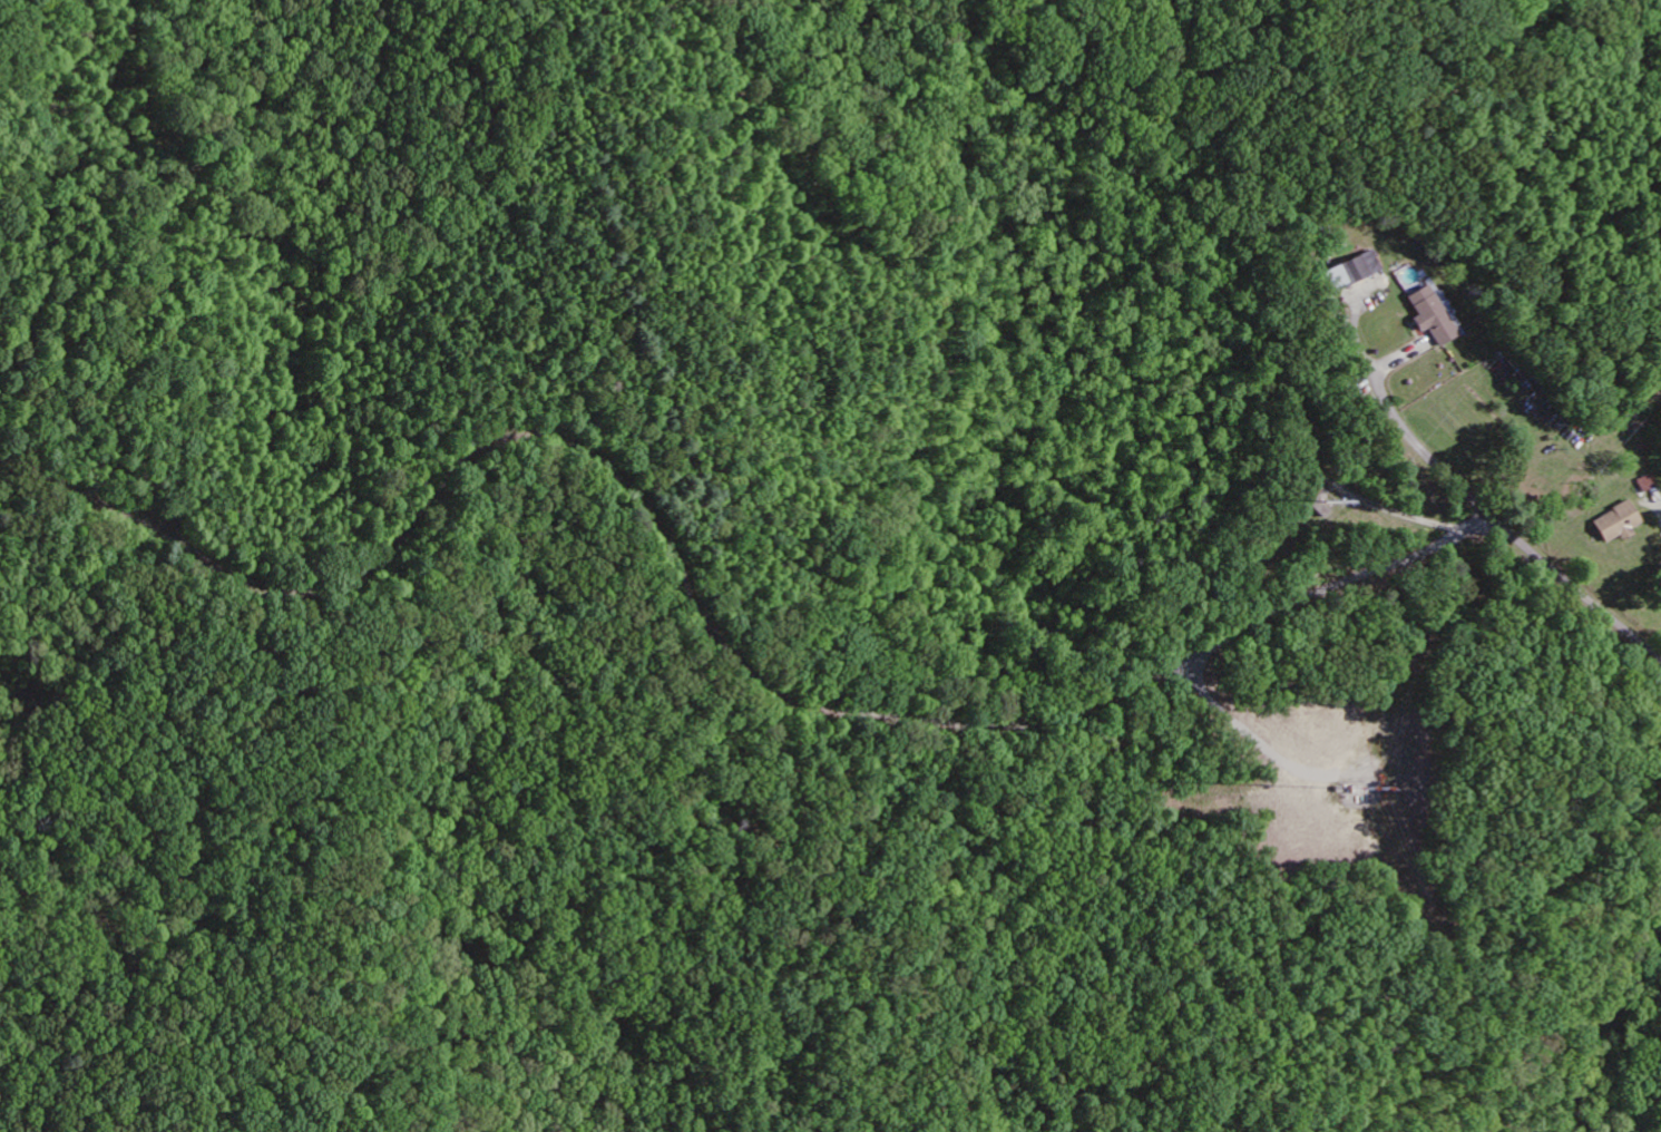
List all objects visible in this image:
building: (1359, 269)
building: (1429, 318)
road: (1491, 515)
building: (1615, 525)
road: (1233, 635)

